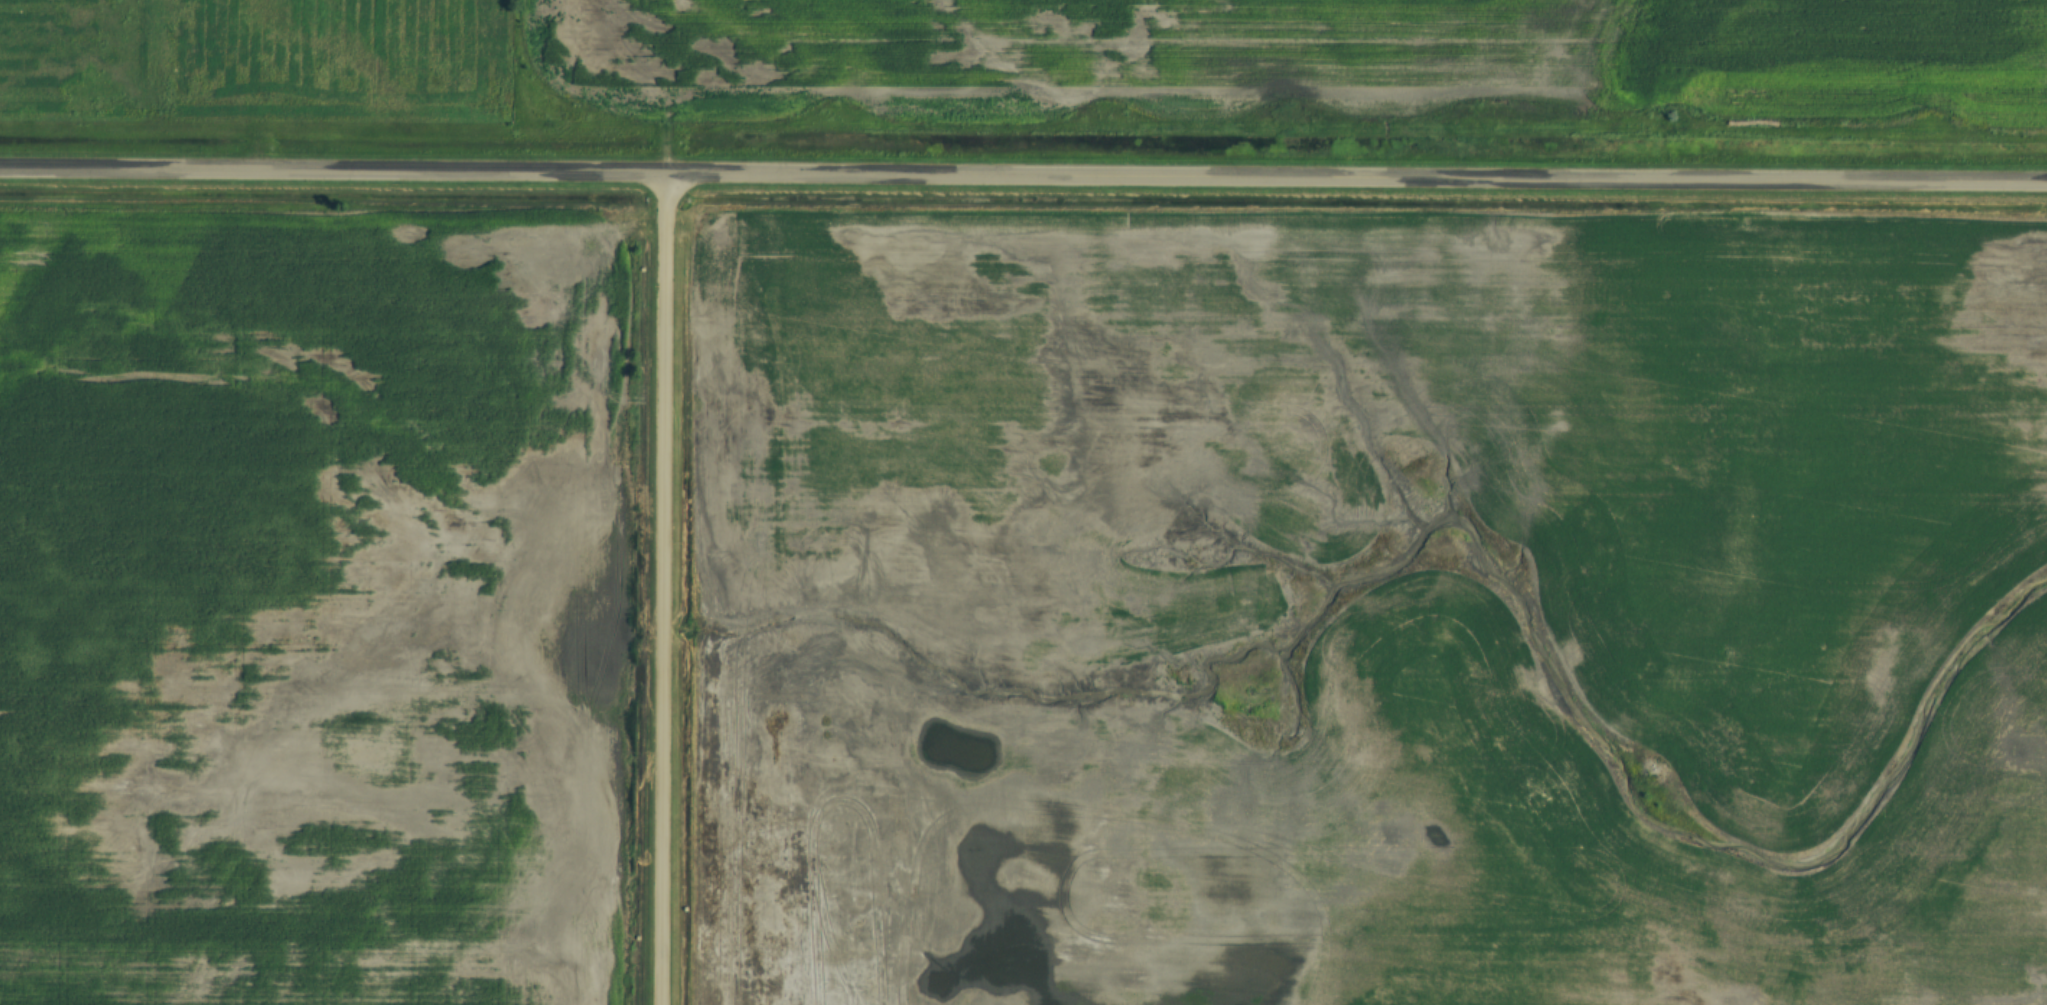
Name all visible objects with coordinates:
road: (1023, 179)
road: (658, 591)

